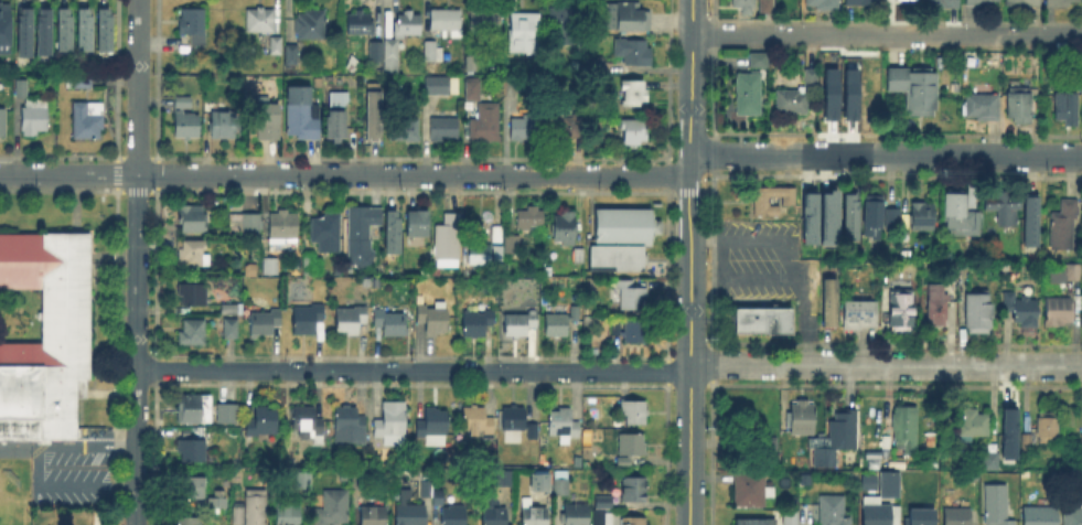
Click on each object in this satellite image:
building: (981, 2)
building: (863, 3)
building: (1024, 3)
building: (1061, 3)
building: (825, 4)
building: (944, 4)
building: (763, 6)
building: (744, 7)
building: (629, 15)
building: (260, 22)
building: (484, 22)
building: (448, 23)
building: (361, 24)
building: (312, 25)
building: (407, 25)
building: (3, 26)
building: (193, 26)
building: (66, 28)
building: (85, 28)
building: (106, 28)
building: (567, 28)
building: (45, 29)
building: (24, 30)
building: (523, 30)
road: (887, 33)
building: (276, 46)
building: (376, 51)
building: (433, 53)
building: (635, 54)
road: (692, 54)
building: (290, 55)
building: (392, 56)
building: (756, 57)
building: (972, 58)
building: (3, 64)
building: (354, 65)
building: (808, 76)
building: (79, 82)
building: (437, 84)
road: (137, 86)
building: (22, 89)
building: (474, 89)
building: (298, 90)
building: (747, 92)
building: (918, 92)
building: (828, 93)
building: (848, 93)
building: (338, 97)
building: (634, 97)
building: (790, 100)
building: (985, 108)
building: (1021, 109)
building: (469, 110)
building: (1068, 110)
building: (372, 111)
building: (35, 119)
building: (185, 120)
building: (570, 120)
building: (88, 121)
building: (270, 124)
building: (302, 124)
building: (3, 125)
building: (485, 125)
building: (223, 127)
building: (336, 129)
building: (526, 129)
building: (405, 130)
building: (443, 130)
building: (634, 135)
road: (689, 137)
road: (883, 154)
road: (68, 173)
road: (414, 174)
road: (688, 197)
road: (73, 203)
building: (762, 204)
building: (1007, 210)
building: (848, 214)
building: (890, 215)
building: (960, 215)
building: (807, 216)
building: (826, 216)
building: (923, 218)
building: (531, 219)
building: (1030, 219)
building: (193, 221)
building: (417, 221)
building: (875, 221)
building: (896, 221)
building: (245, 225)
building: (365, 225)
building: (1067, 226)
building: (565, 228)
building: (283, 229)
building: (393, 229)
building: (326, 235)
building: (622, 236)
building: (907, 239)
building: (444, 245)
building: (512, 246)
building: (479, 251)
building: (192, 254)
building: (813, 256)
building: (311, 265)
building: (271, 268)
building: (437, 270)
building: (949, 271)
road: (793, 272)
building: (1067, 276)
building: (626, 292)
building: (193, 298)
road: (692, 298)
building: (827, 301)
building: (229, 309)
building: (1021, 310)
building: (940, 311)
building: (857, 312)
building: (576, 313)
building: (902, 313)
building: (981, 313)
building: (1059, 313)
building: (307, 320)
building: (435, 320)
building: (352, 321)
building: (392, 323)
building: (476, 323)
building: (265, 324)
building: (522, 324)
building: (558, 326)
building: (763, 326)
building: (626, 329)
building: (231, 330)
building: (194, 334)
building: (46, 340)
road: (136, 349)
road: (609, 372)
road: (107, 395)
building: (630, 409)
building: (194, 411)
building: (228, 416)
building: (804, 420)
building: (519, 422)
building: (264, 424)
building: (479, 424)
building: (392, 425)
building: (310, 426)
building: (975, 426)
building: (351, 427)
building: (565, 427)
building: (435, 429)
building: (907, 429)
building: (1049, 429)
building: (1007, 432)
building: (835, 437)
building: (763, 440)
building: (1028, 440)
road: (689, 447)
building: (632, 451)
building: (192, 452)
building: (988, 459)
road: (38, 465)
parking lot: (71, 473)
building: (543, 476)
building: (301, 478)
building: (802, 478)
building: (504, 481)
building: (867, 481)
building: (887, 482)
building: (360, 483)
building: (561, 484)
building: (192, 489)
building: (426, 491)
building: (753, 492)
building: (636, 494)
building: (439, 500)
building: (217, 501)
building: (606, 503)
building: (997, 503)
building: (255, 508)
building: (333, 508)
building: (834, 512)
building: (238, 515)
building: (288, 515)
building: (577, 515)
building: (411, 516)
building: (456, 516)
building: (878, 516)
building: (374, 517)
building: (499, 517)
building: (535, 517)
building: (1042, 517)
building: (1073, 517)
building: (604, 518)
building: (923, 518)
building: (960, 518)
building: (791, 519)
building: (191, 523)
building: (635, 523)
building: (752, 524)

